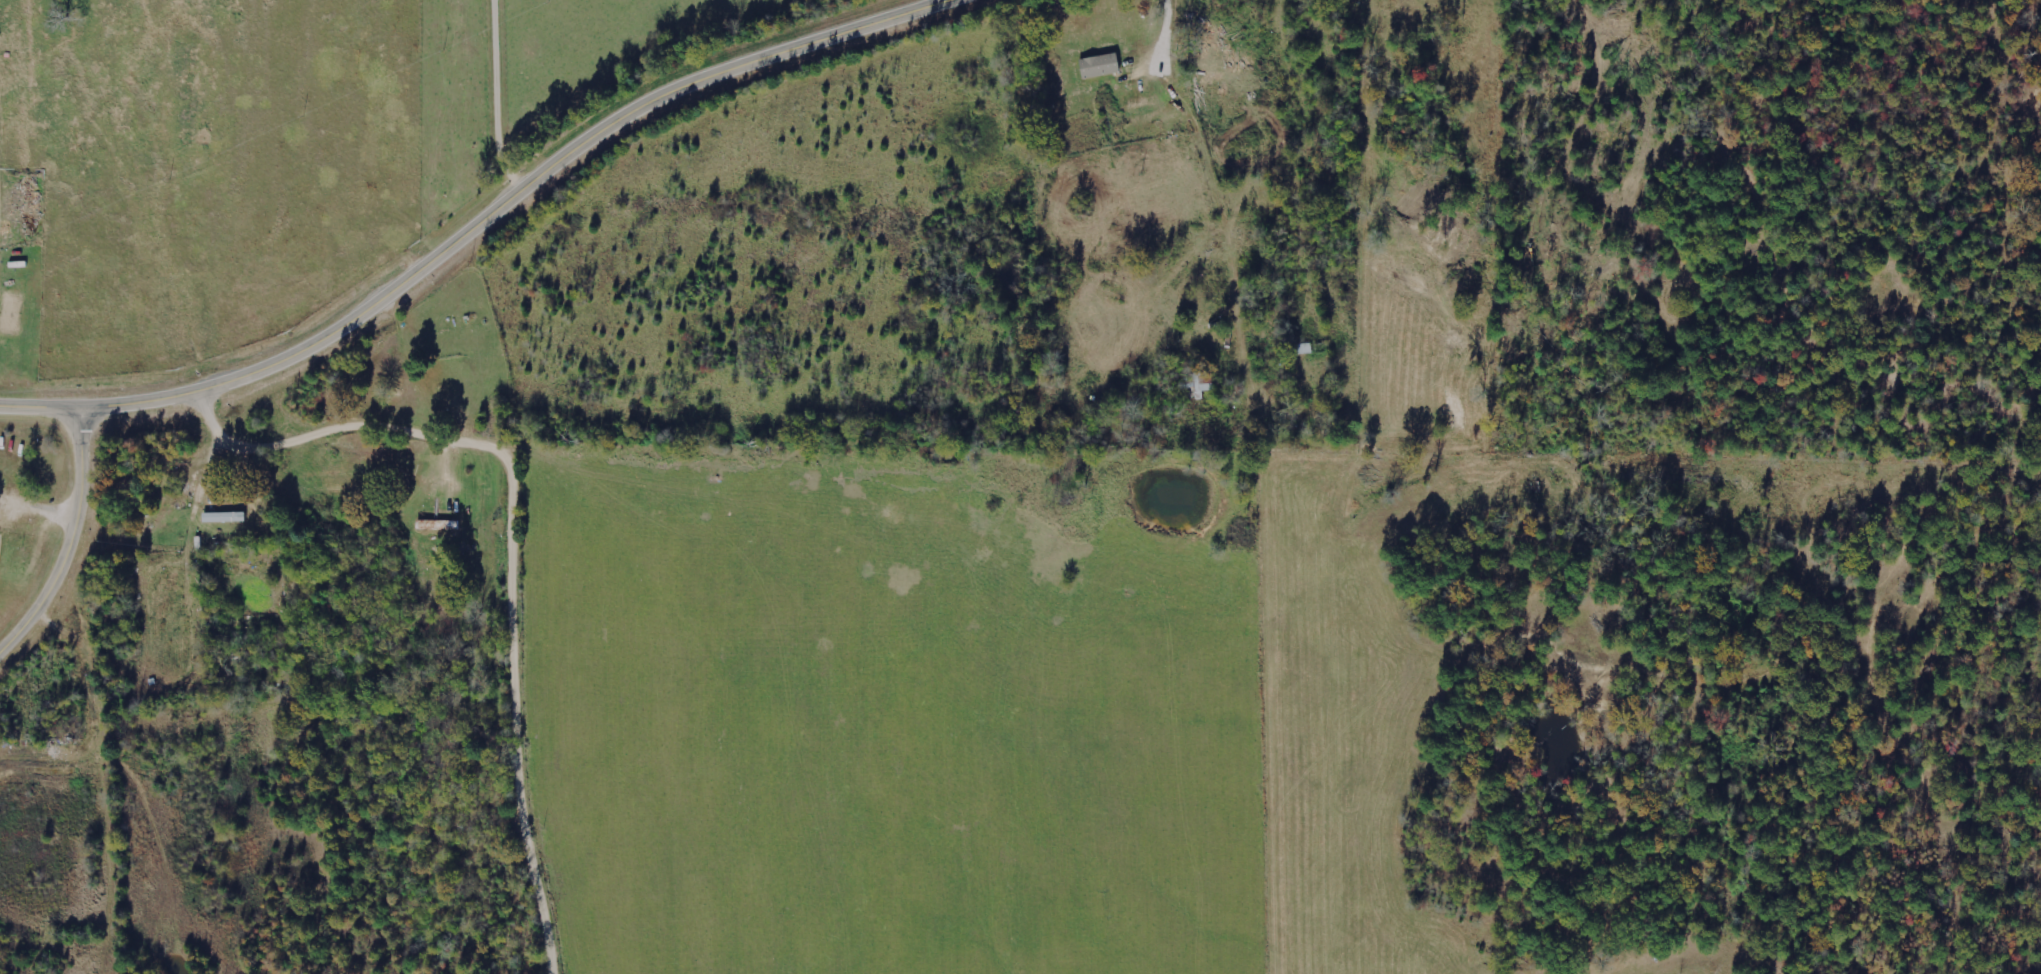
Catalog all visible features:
building: (1103, 66)
road: (495, 97)
road: (477, 223)
building: (228, 516)
building: (441, 524)
road: (521, 539)
road: (73, 542)
building: (0, 549)

